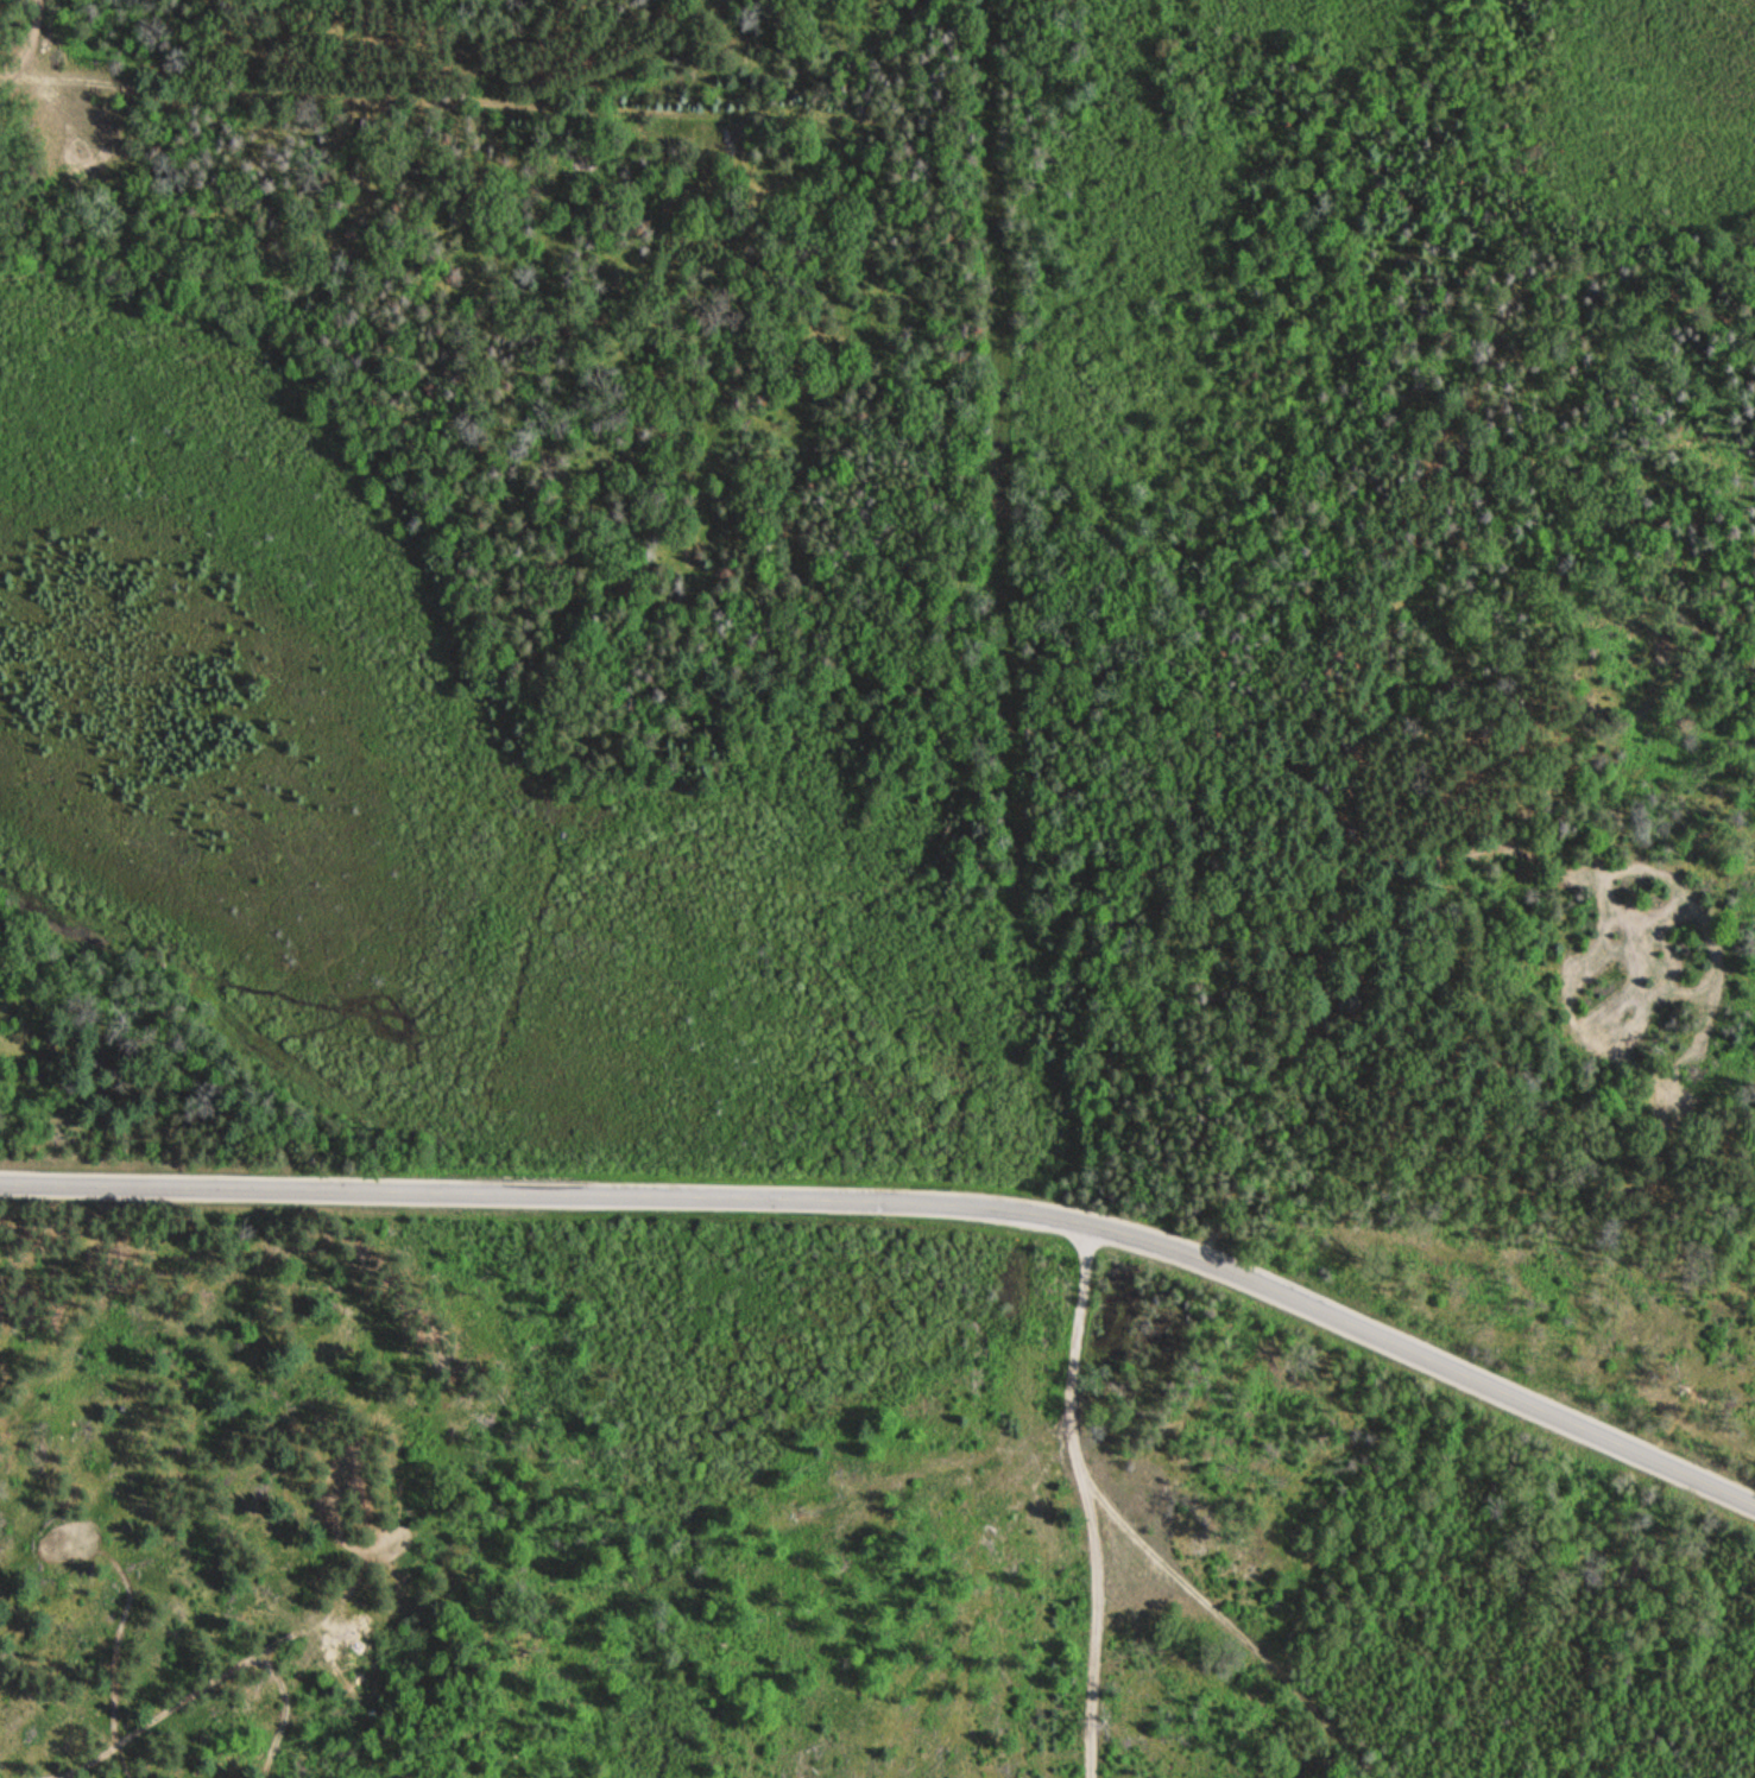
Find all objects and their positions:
road: (30, 45)
building: (1355, 1007)
road: (907, 1200)
road: (1069, 1502)
road: (1214, 1627)

